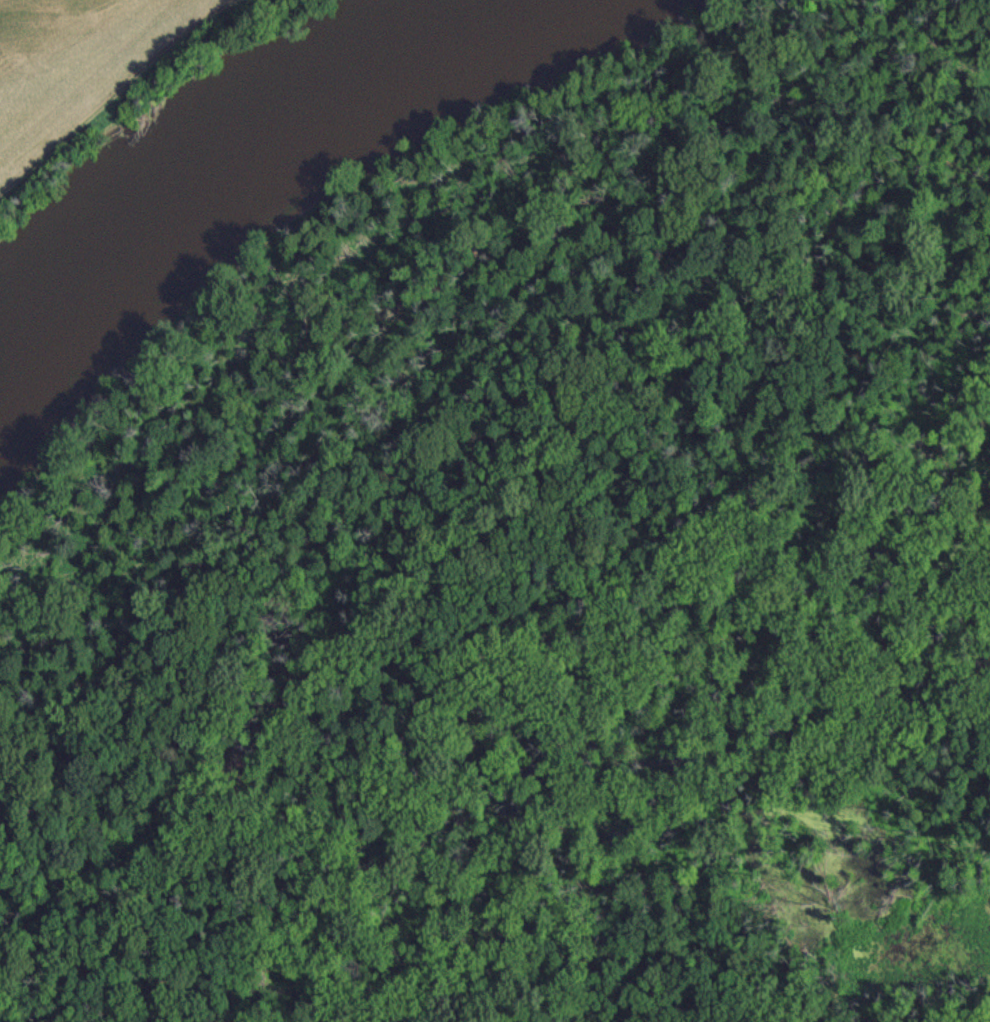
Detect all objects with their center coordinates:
river: (225, 149)

